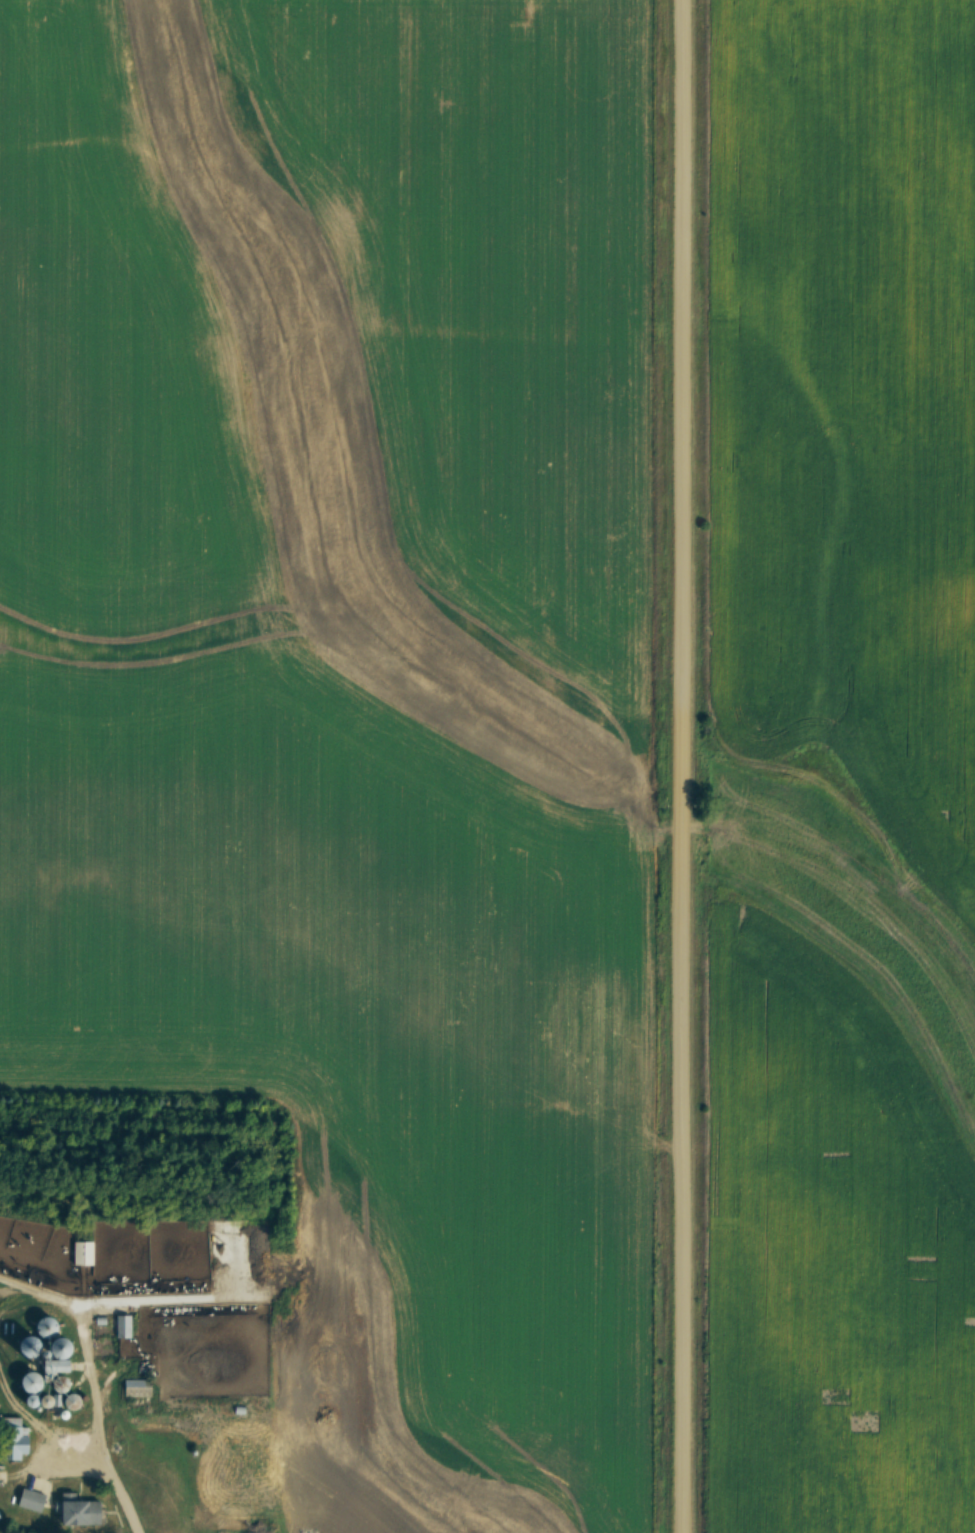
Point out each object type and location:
road: (686, 766)
building: (84, 1252)
building: (123, 1325)
building: (47, 1359)
building: (138, 1386)
building: (64, 1398)
building: (203, 1472)
road: (114, 1473)
building: (32, 1498)
building: (81, 1509)

